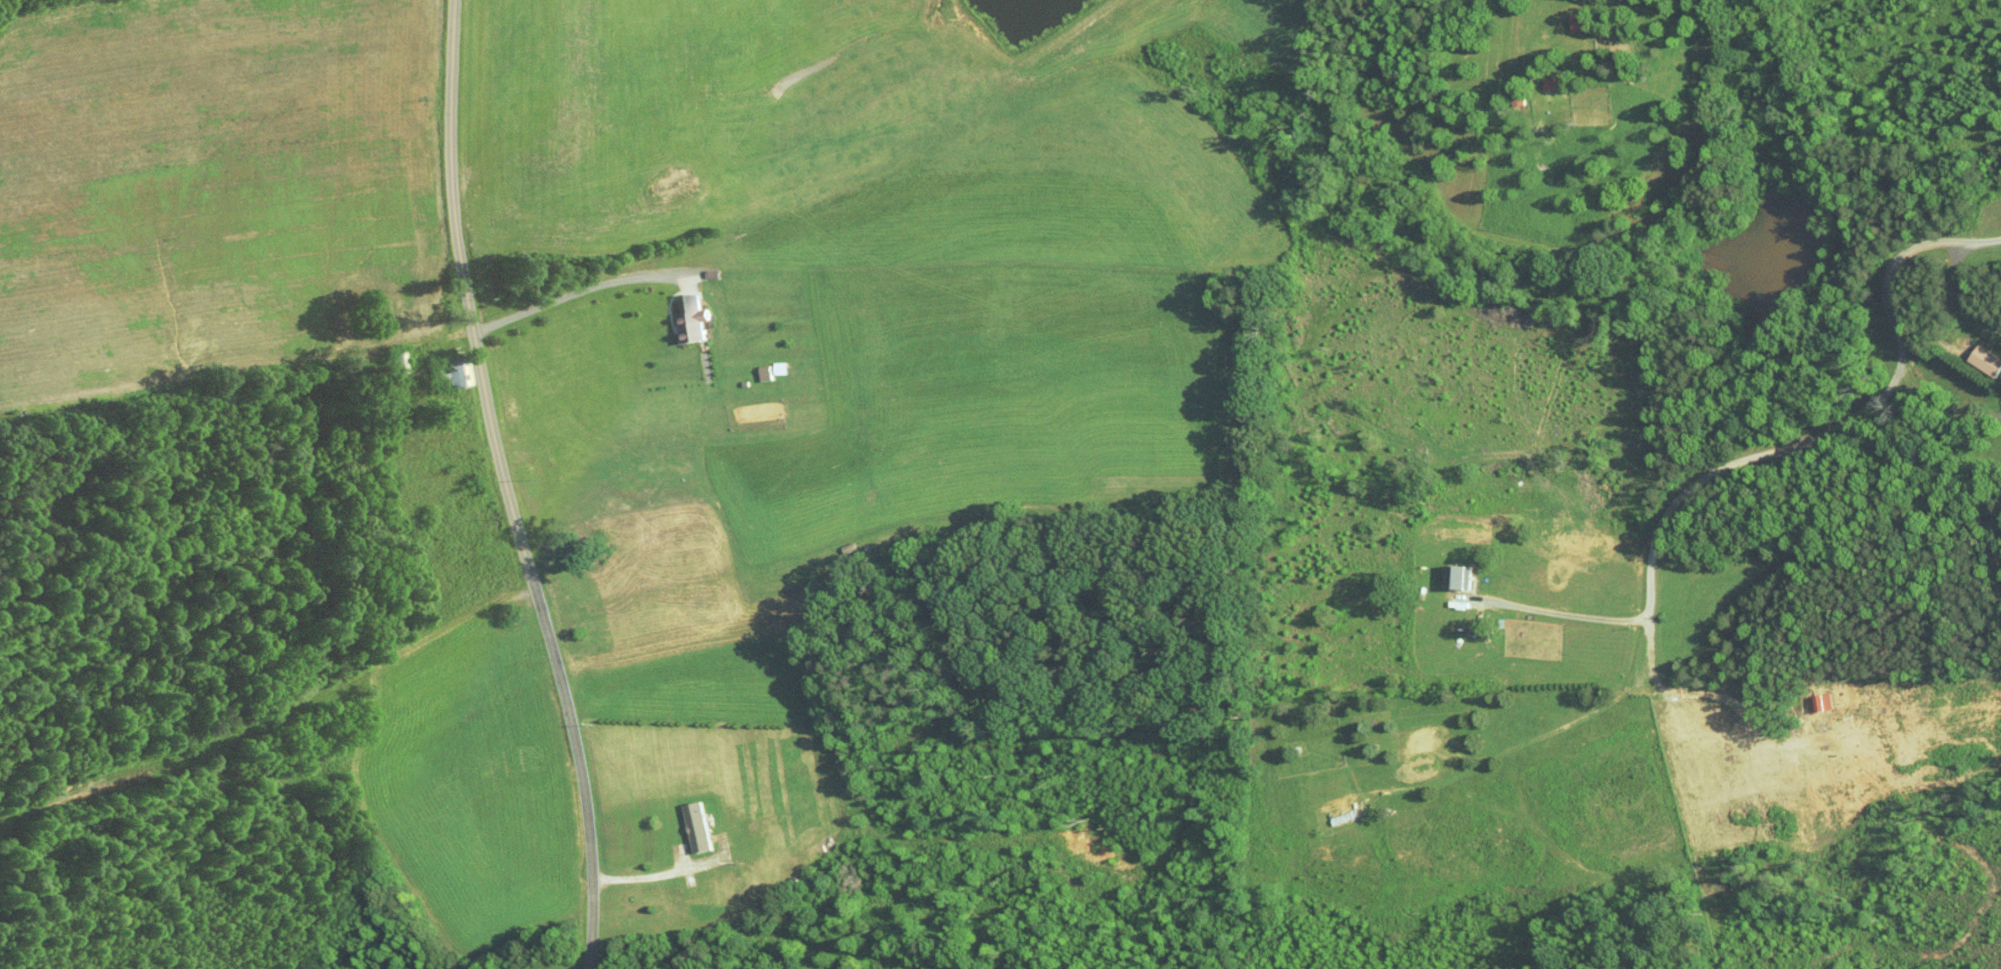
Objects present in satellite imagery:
road: (569, 284)
road: (1961, 294)
building: (685, 313)
building: (1970, 354)
building: (449, 369)
road: (1945, 403)
road: (1814, 437)
road: (506, 487)
building: (1451, 569)
road: (1556, 607)
building: (689, 820)
road: (645, 876)

